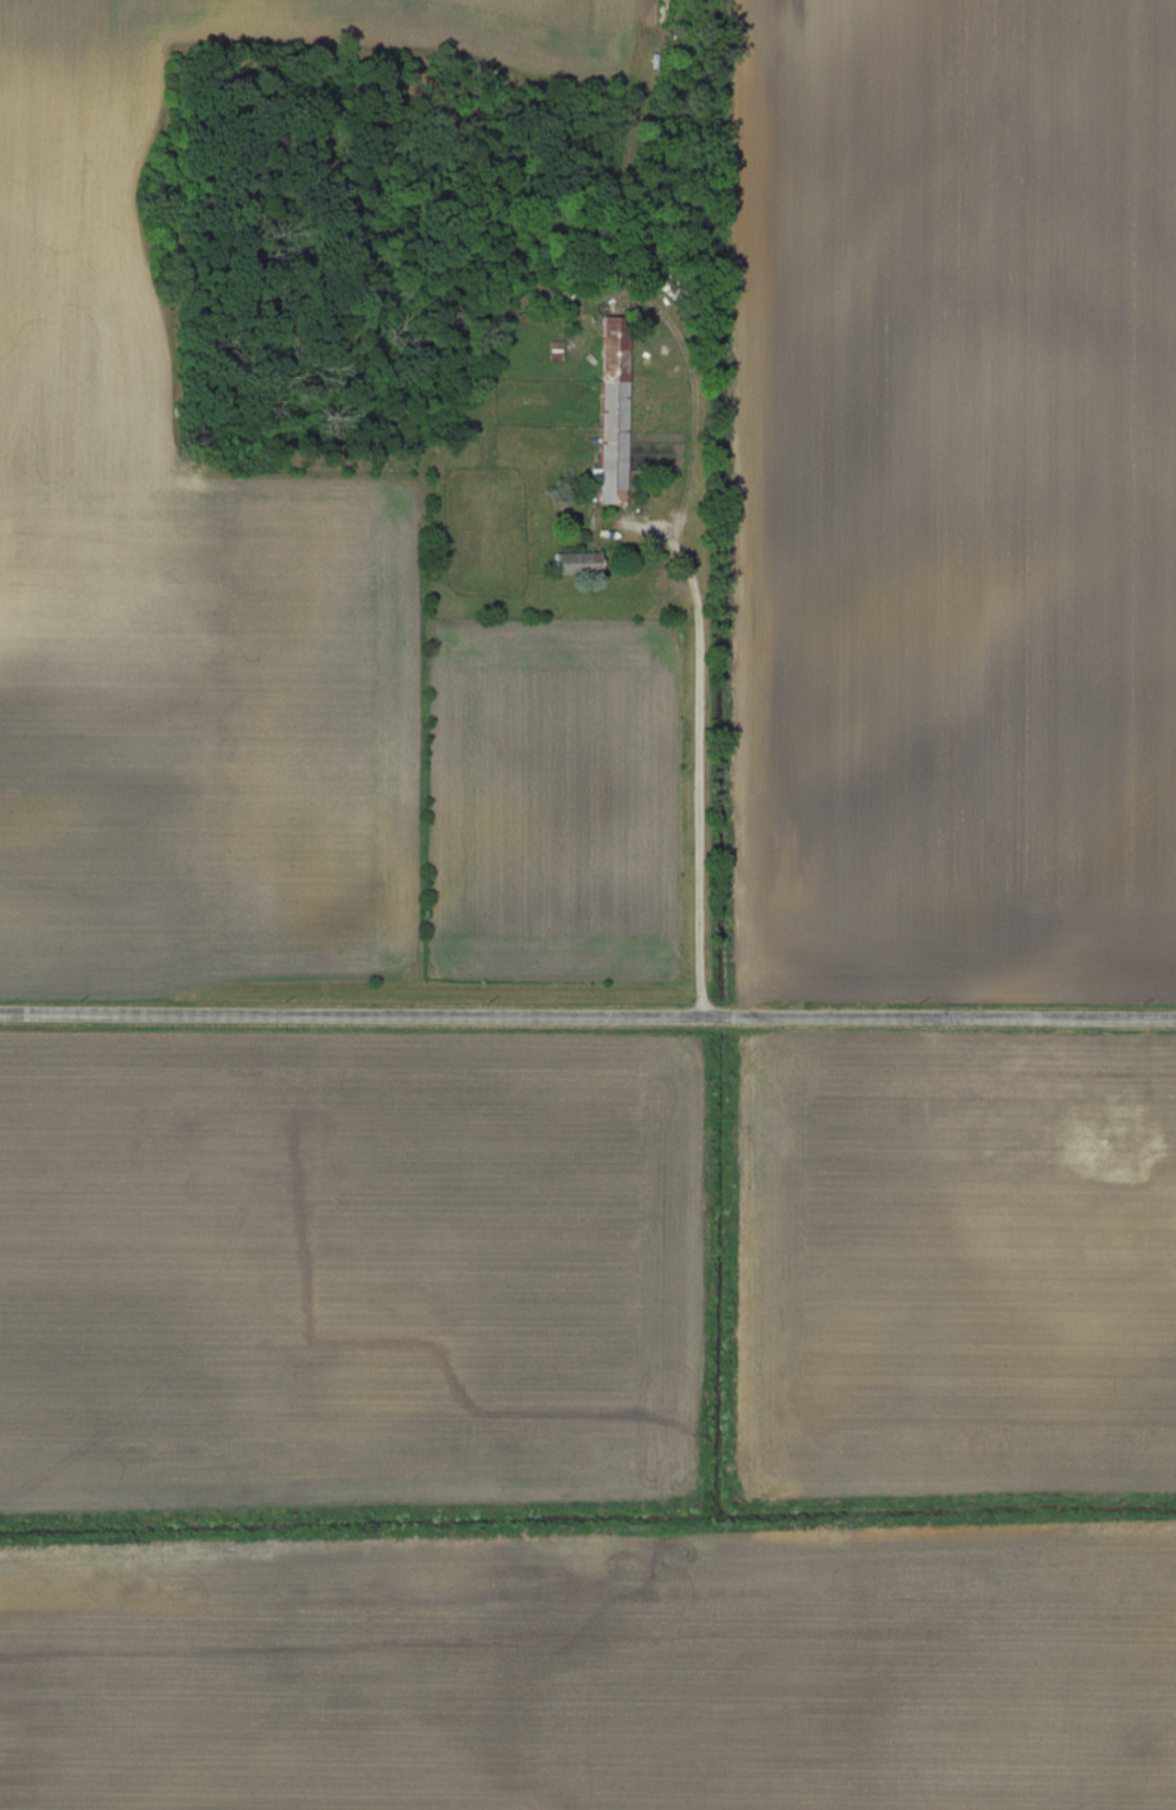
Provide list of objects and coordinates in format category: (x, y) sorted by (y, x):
building: (615, 411)
road: (587, 1010)

